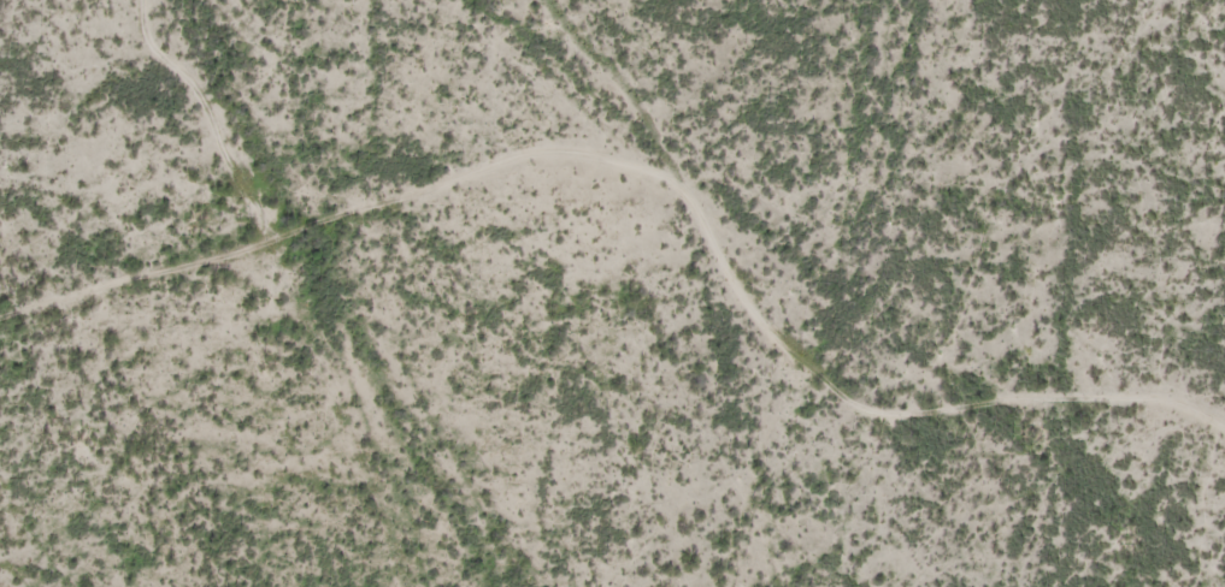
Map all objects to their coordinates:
road: (447, 164)
road: (894, 198)
road: (825, 354)

